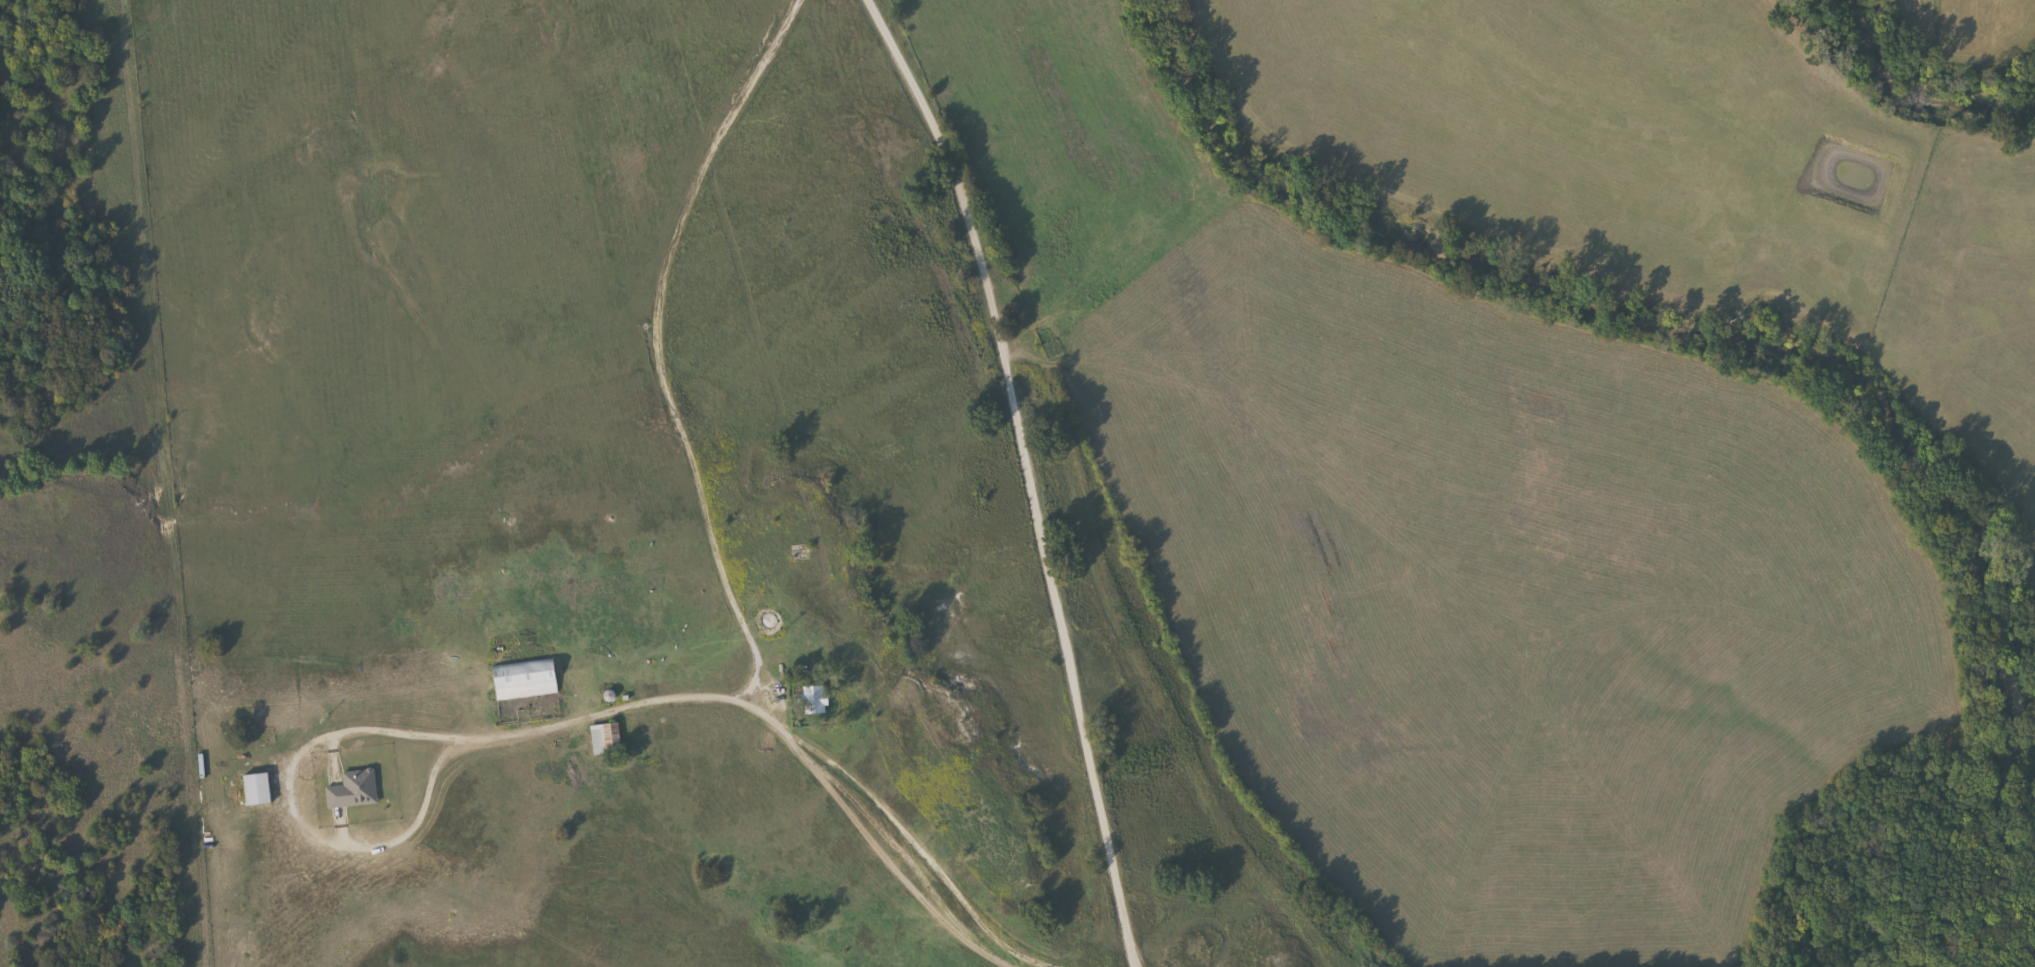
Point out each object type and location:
road: (1026, 474)
road: (704, 527)
building: (520, 682)
building: (810, 700)
road: (374, 734)
building: (602, 740)
building: (251, 790)
building: (349, 791)

